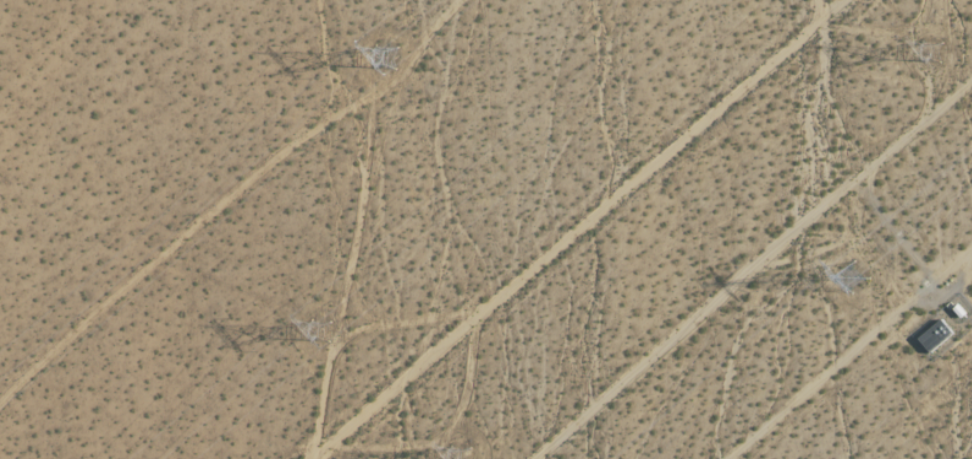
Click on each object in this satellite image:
power tower: (938, 50)
power tower: (393, 55)
road: (592, 231)
power tower: (857, 280)
power tower: (321, 333)
building: (932, 336)
road: (851, 355)
power tower: (469, 458)

